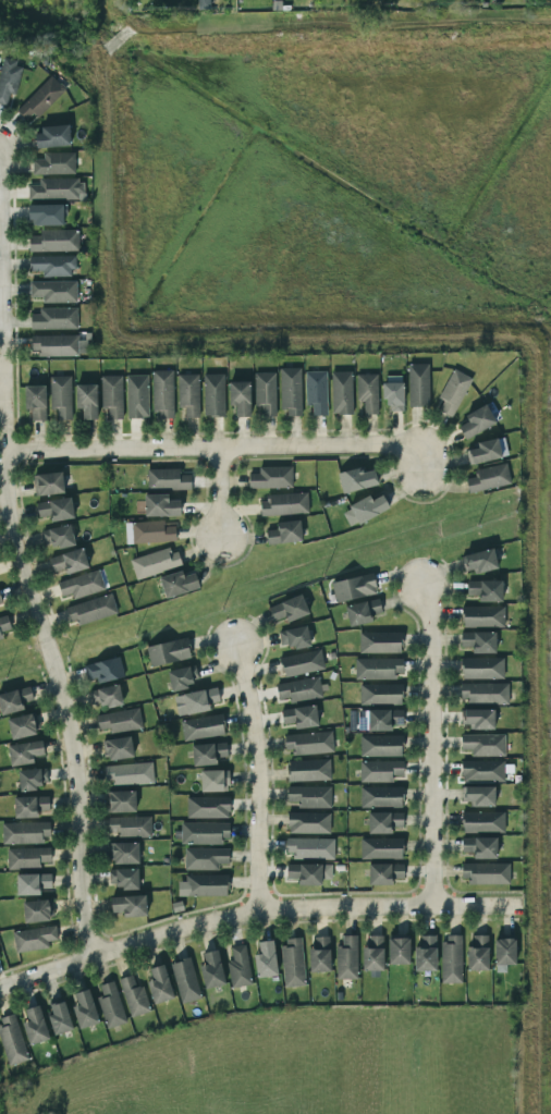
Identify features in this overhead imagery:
building: (8, 77)
building: (39, 99)
building: (52, 136)
building: (53, 163)
building: (56, 188)
building: (45, 215)
building: (54, 241)
building: (53, 266)
building: (53, 291)
road: (2, 316)
building: (54, 318)
building: (59, 345)
building: (417, 384)
building: (290, 391)
building: (316, 392)
building: (341, 392)
building: (367, 392)
building: (393, 392)
building: (453, 392)
building: (162, 394)
building: (265, 394)
building: (111, 395)
building: (187, 395)
building: (213, 395)
building: (60, 396)
building: (136, 396)
building: (240, 397)
building: (86, 401)
building: (35, 402)
building: (477, 421)
road: (217, 450)
building: (487, 451)
building: (271, 477)
building: (488, 478)
building: (167, 479)
building: (356, 479)
building: (48, 483)
road: (220, 493)
building: (283, 504)
building: (160, 505)
building: (56, 509)
building: (364, 510)
building: (149, 531)
building: (284, 532)
building: (58, 537)
building: (69, 561)
building: (478, 561)
building: (154, 562)
road: (33, 578)
building: (177, 584)
building: (81, 585)
building: (354, 587)
building: (486, 590)
building: (0, 601)
building: (289, 609)
building: (90, 610)
building: (362, 612)
building: (482, 616)
building: (3, 625)
building: (294, 637)
building: (379, 642)
building: (479, 642)
building: (168, 652)
building: (302, 663)
building: (378, 668)
building: (482, 668)
building: (103, 670)
building: (183, 676)
building: (299, 689)
building: (483, 693)
building: (380, 694)
building: (106, 696)
building: (14, 700)
building: (199, 700)
building: (299, 717)
building: (477, 719)
building: (378, 720)
building: (119, 721)
building: (21, 726)
building: (203, 727)
building: (308, 743)
road: (431, 744)
building: (483, 745)
building: (380, 746)
building: (118, 748)
building: (24, 752)
building: (208, 754)
building: (308, 770)
building: (482, 770)
building: (381, 771)
building: (128, 773)
road: (256, 775)
building: (30, 779)
building: (213, 781)
building: (309, 796)
building: (478, 796)
building: (381, 797)
building: (121, 801)
building: (29, 806)
building: (208, 807)
building: (308, 822)
building: (383, 822)
building: (482, 822)
building: (126, 827)
building: (24, 833)
building: (205, 833)
building: (309, 847)
building: (479, 847)
building: (381, 848)
building: (124, 853)
building: (27, 857)
building: (205, 858)
building: (308, 873)
building: (384, 873)
building: (485, 873)
building: (123, 878)
building: (32, 883)
building: (203, 885)
building: (128, 906)
road: (254, 910)
building: (36, 911)
building: (33, 939)
building: (397, 951)
building: (478, 953)
building: (504, 953)
building: (319, 954)
building: (372, 954)
building: (425, 954)
building: (346, 958)
building: (265, 959)
building: (450, 960)
building: (292, 962)
building: (238, 967)
building: (211, 969)
building: (185, 980)
building: (159, 984)
building: (133, 996)
building: (110, 1005)
building: (84, 1008)
building: (59, 1018)
building: (35, 1026)
building: (12, 1041)

